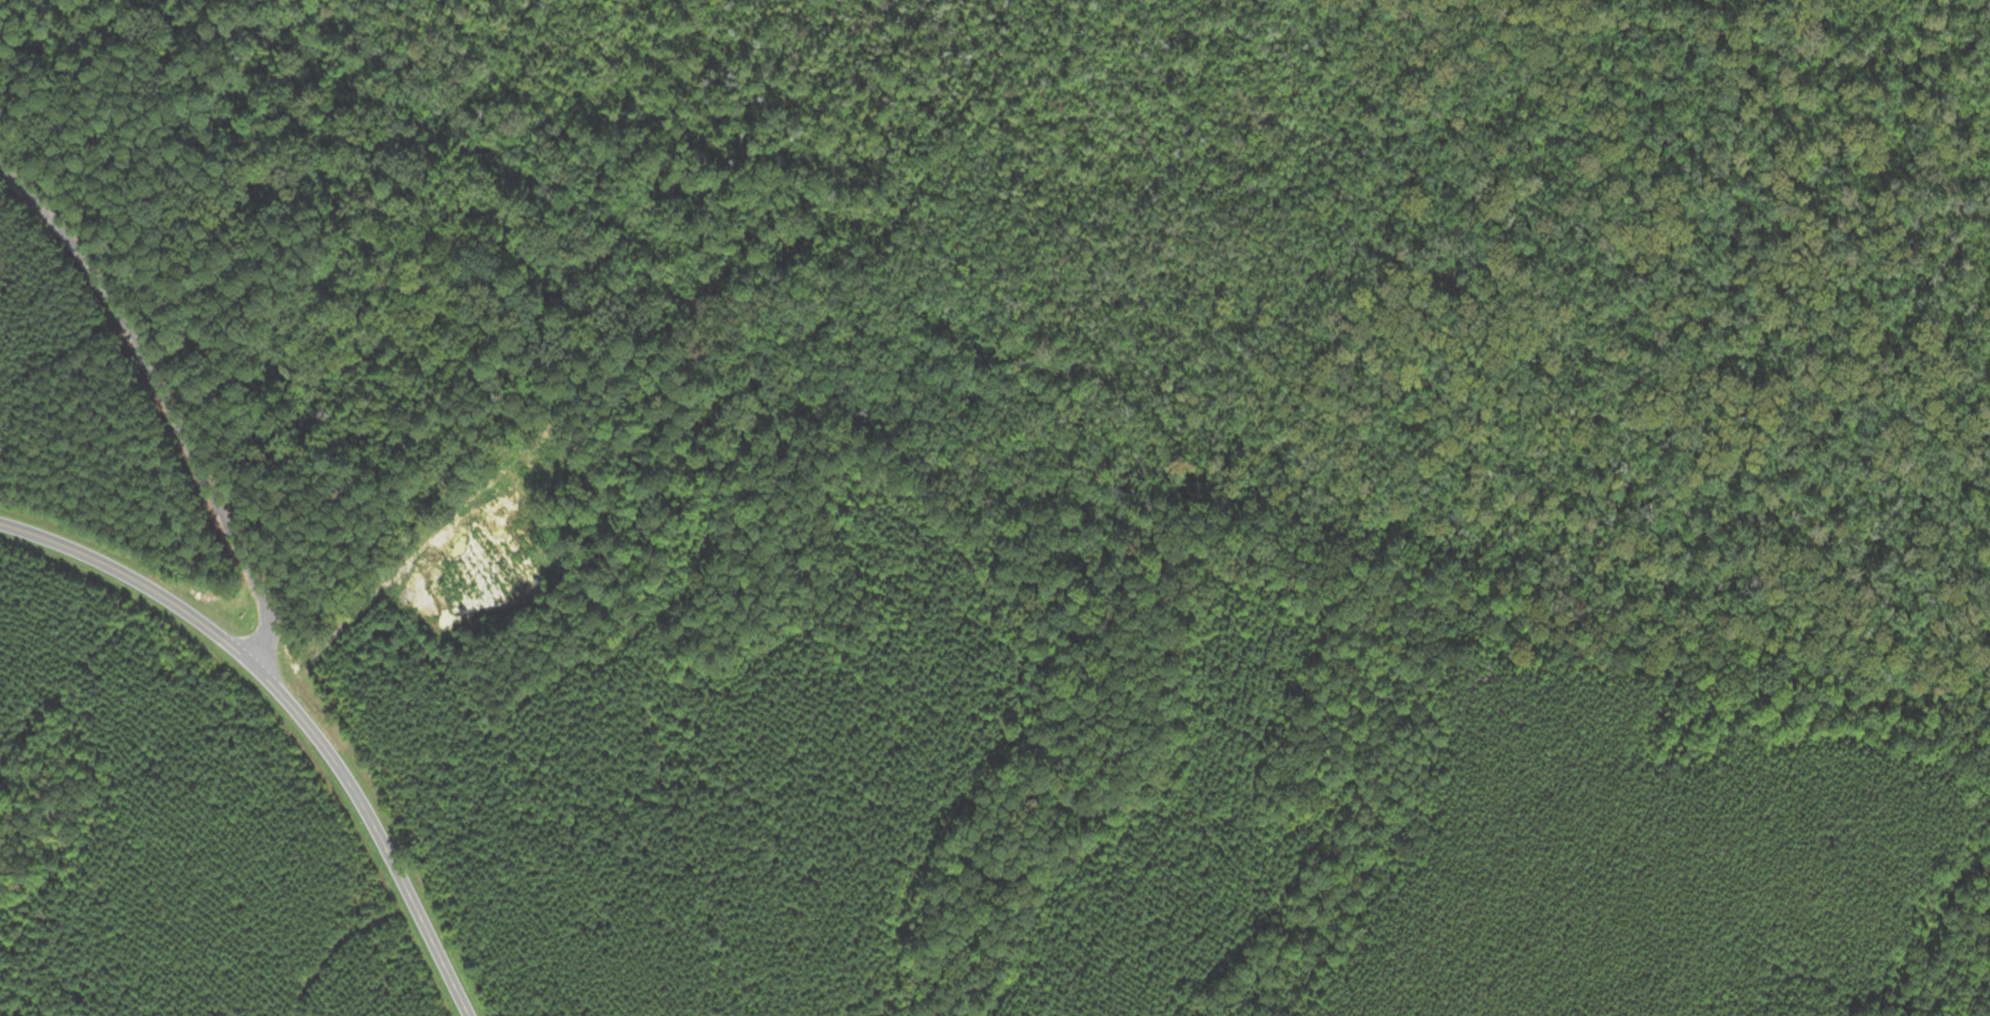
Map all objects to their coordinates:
road: (166, 401)
road: (293, 709)

